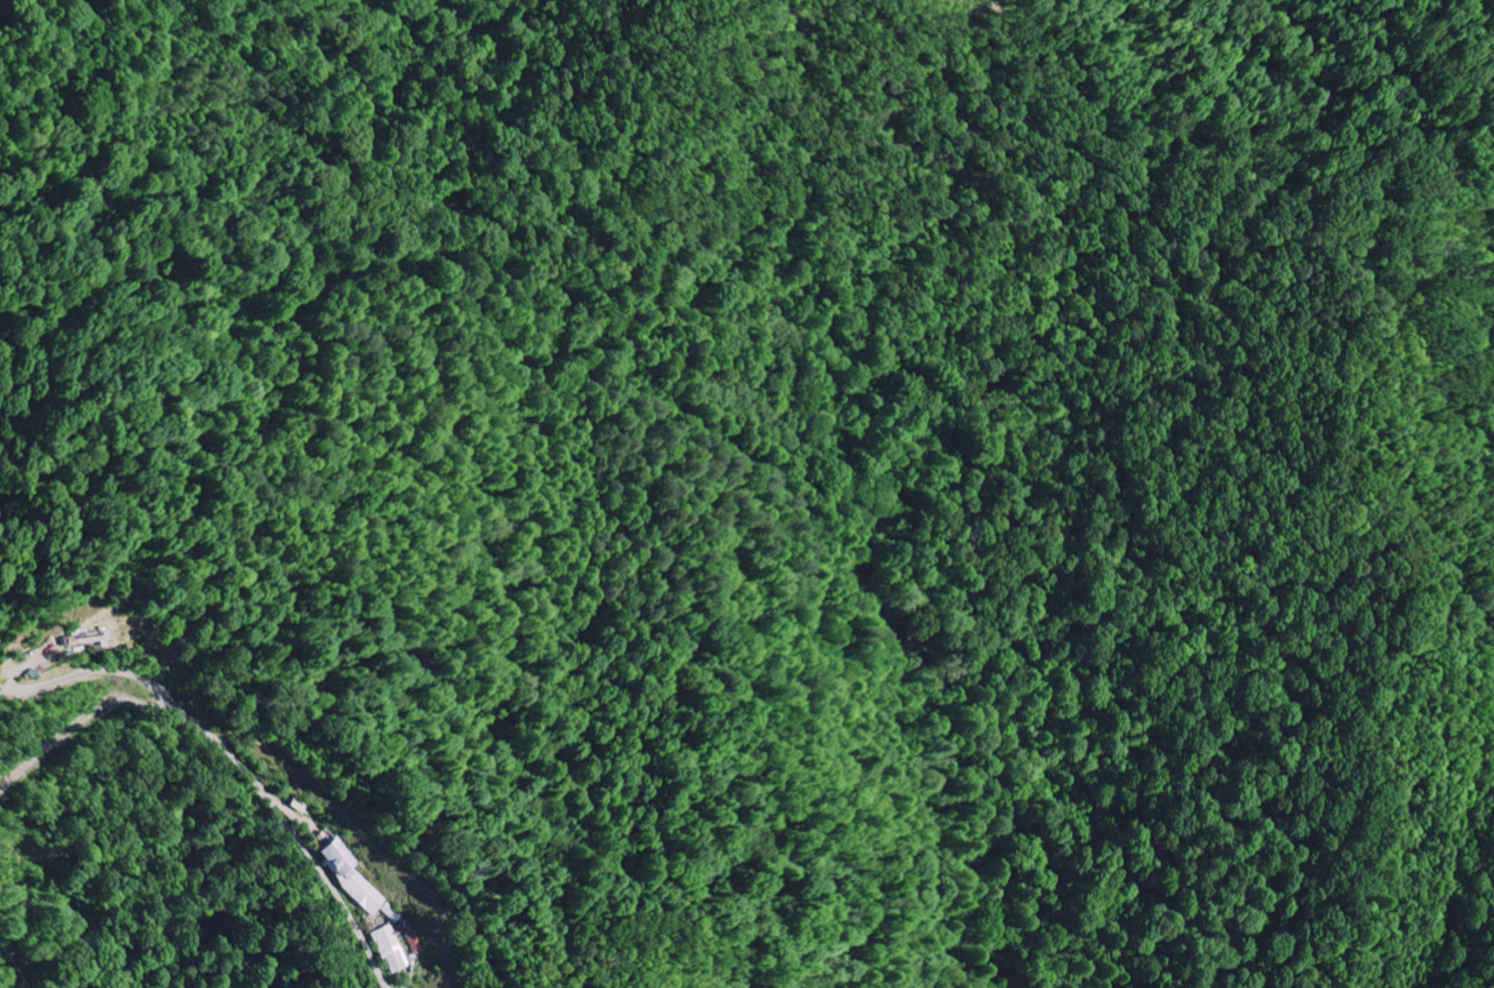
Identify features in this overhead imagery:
building: (84, 639)
road: (158, 706)
building: (348, 875)
road: (84, 913)
building: (388, 950)

